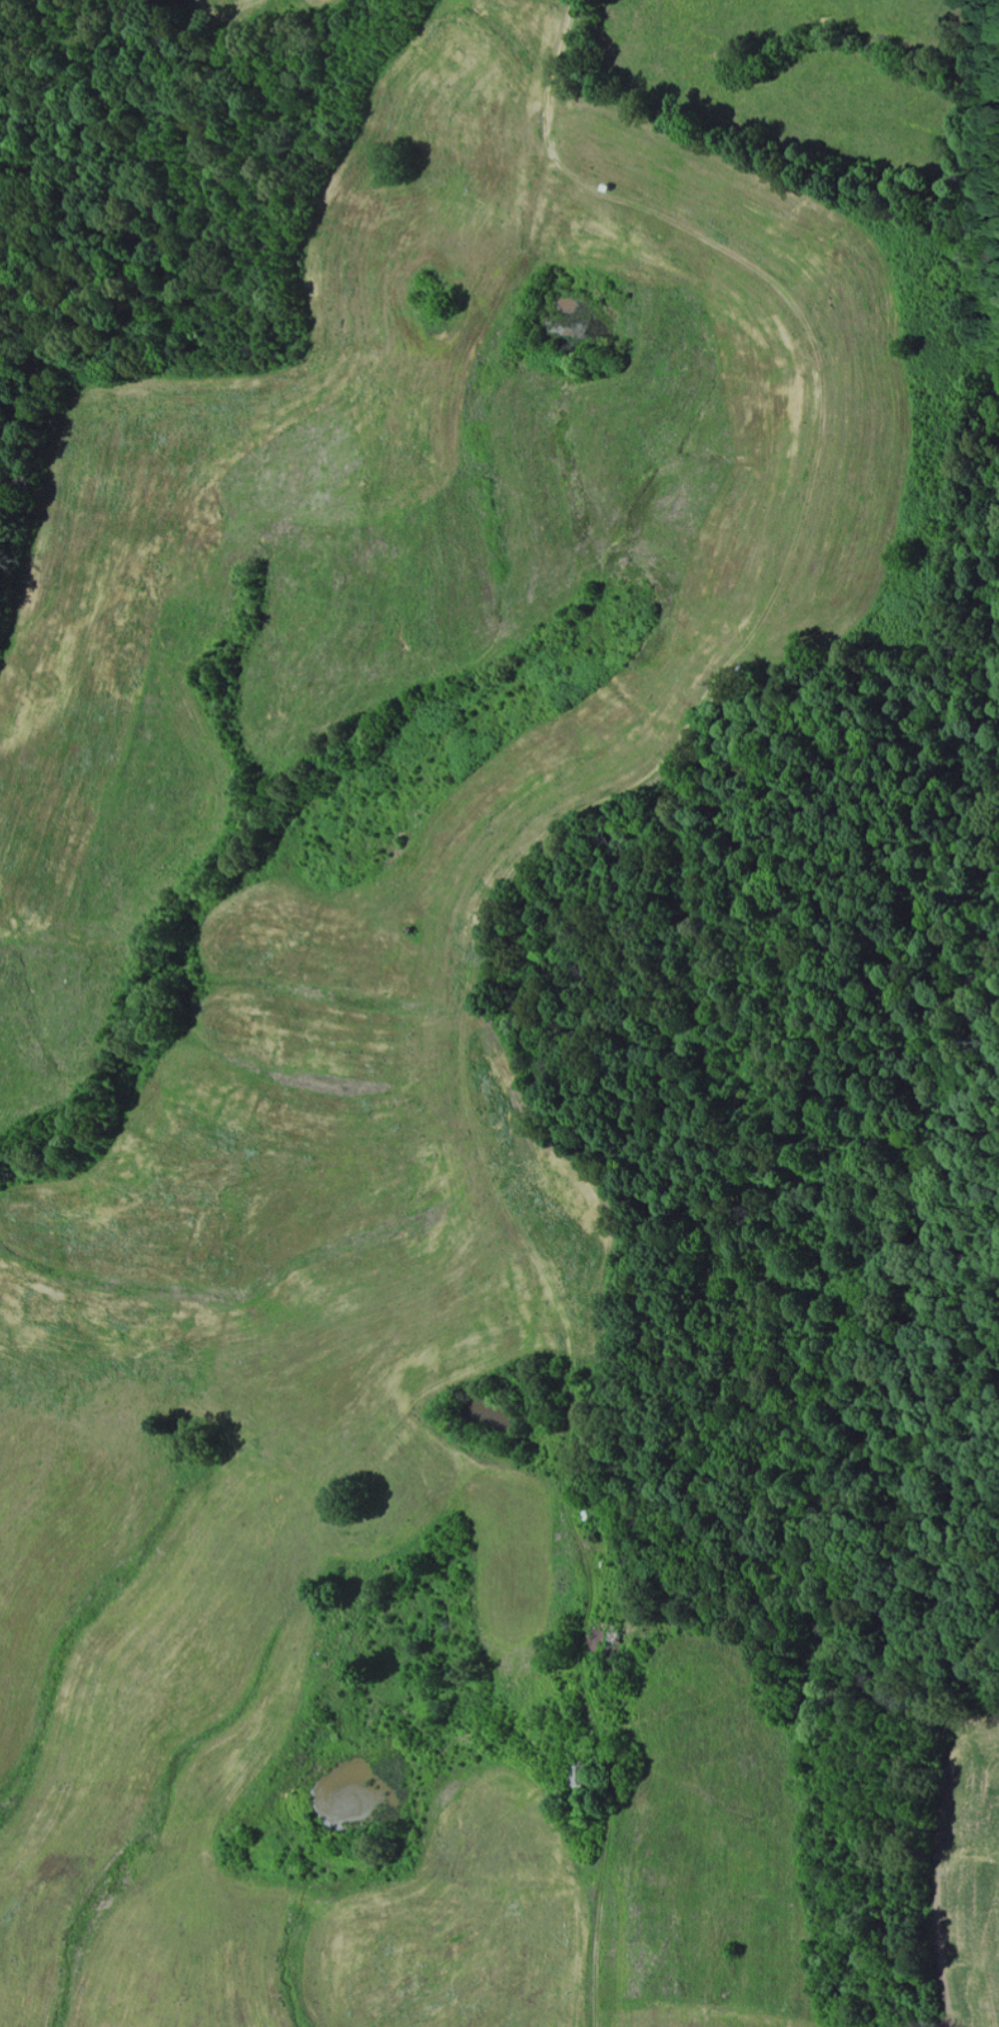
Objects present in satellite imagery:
road: (611, 1910)

